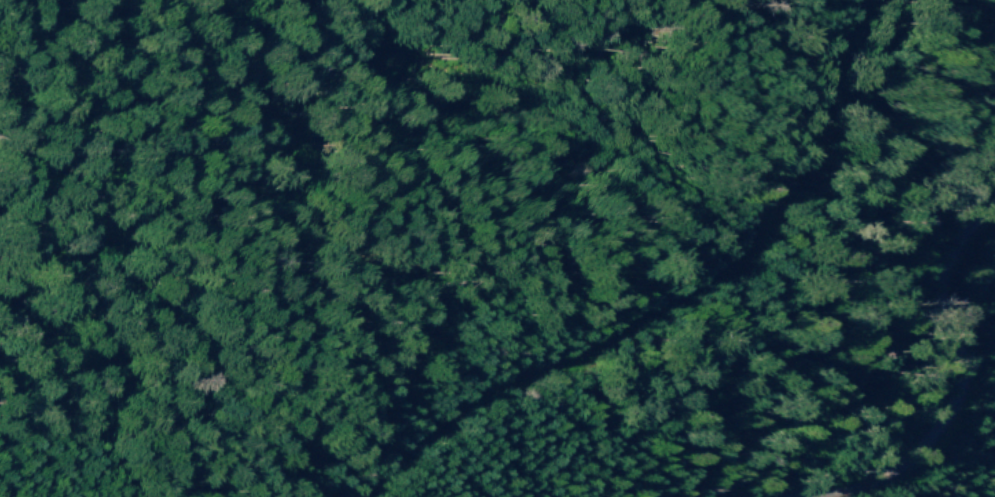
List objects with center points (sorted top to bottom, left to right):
road: (667, 305)
road: (952, 381)

